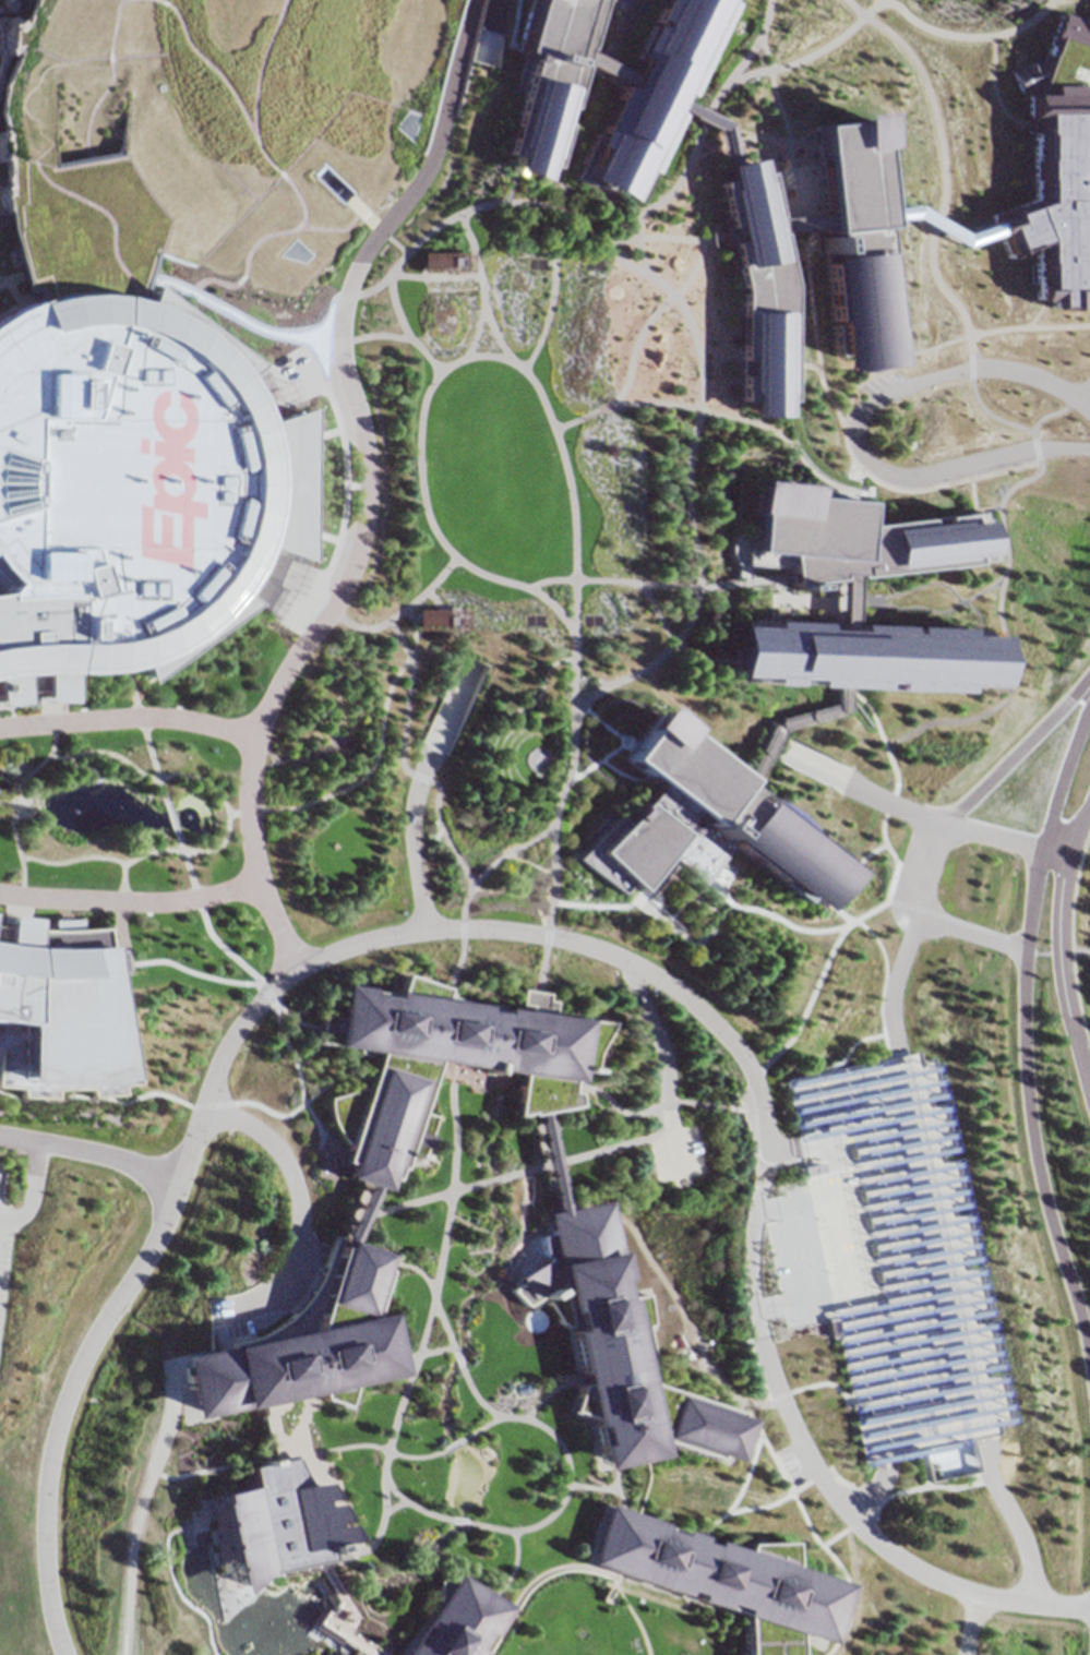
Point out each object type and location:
road: (493, 26)
road: (975, 27)
road: (37, 57)
road: (94, 80)
building: (638, 95)
road: (723, 95)
road: (237, 121)
road: (720, 129)
building: (203, 131)
road: (572, 143)
building: (1062, 171)
road: (411, 180)
road: (52, 188)
road: (519, 203)
road: (895, 208)
road: (330, 226)
road: (939, 226)
road: (275, 227)
road: (608, 250)
building: (850, 265)
road: (2, 274)
road: (477, 285)
road: (814, 307)
road: (237, 316)
road: (499, 336)
road: (627, 382)
road: (1088, 399)
road: (590, 416)
road: (731, 418)
road: (860, 429)
building: (574, 439)
parking lot: (574, 439)
building: (133, 468)
road: (866, 469)
road: (572, 494)
road: (477, 569)
road: (339, 587)
building: (842, 592)
road: (690, 615)
building: (29, 640)
road: (128, 717)
road: (782, 720)
road: (144, 732)
road: (378, 737)
road: (1019, 753)
road: (891, 763)
road: (1064, 777)
road: (205, 781)
road: (8, 784)
road: (860, 789)
road: (417, 791)
road: (4, 804)
road: (170, 816)
road: (442, 821)
road: (1080, 827)
building: (682, 830)
road: (993, 835)
road: (1057, 848)
road: (895, 856)
road: (930, 873)
road: (20, 876)
road: (121, 886)
road: (266, 892)
road: (835, 895)
road: (133, 901)
road: (199, 903)
road: (552, 911)
road: (869, 912)
road: (764, 915)
road: (989, 931)
road: (970, 934)
road: (1063, 963)
road: (257, 981)
road: (895, 982)
road: (803, 1002)
building: (59, 1006)
road: (294, 1006)
road: (253, 1021)
road: (652, 1034)
building: (443, 1063)
road: (306, 1077)
road: (208, 1100)
road: (1028, 1101)
road: (292, 1136)
parking lot: (672, 1149)
road: (88, 1155)
road: (572, 1160)
road: (547, 1163)
road: (323, 1173)
road: (489, 1182)
road: (23, 1186)
road: (423, 1196)
road: (296, 1206)
road: (364, 1206)
parking lot: (0, 1231)
parking lot: (851, 1262)
building: (736, 1267)
parking lot: (736, 1267)
road: (434, 1294)
road: (743, 1300)
road: (429, 1305)
building: (318, 1330)
road: (421, 1354)
building: (611, 1354)
road: (457, 1362)
road: (307, 1371)
road: (302, 1407)
road: (510, 1420)
road: (477, 1426)
road: (448, 1446)
road: (381, 1448)
road: (631, 1459)
road: (826, 1480)
road: (585, 1485)
road: (875, 1485)
road: (405, 1503)
road: (555, 1507)
road: (1015, 1510)
road: (628, 1514)
building: (266, 1516)
road: (453, 1522)
road: (717, 1522)
road: (130, 1536)
road: (606, 1539)
road: (630, 1543)
road: (772, 1556)
road: (732, 1561)
road: (505, 1567)
road: (841, 1571)
building: (716, 1573)
road: (720, 1575)
road: (745, 1583)
road: (518, 1588)
road: (721, 1593)
road: (325, 1597)
road: (656, 1600)
road: (795, 1602)
park: (248, 1610)
building: (447, 1618)
road: (968, 1622)
road: (638, 1624)
road: (748, 1629)
road: (777, 1633)

